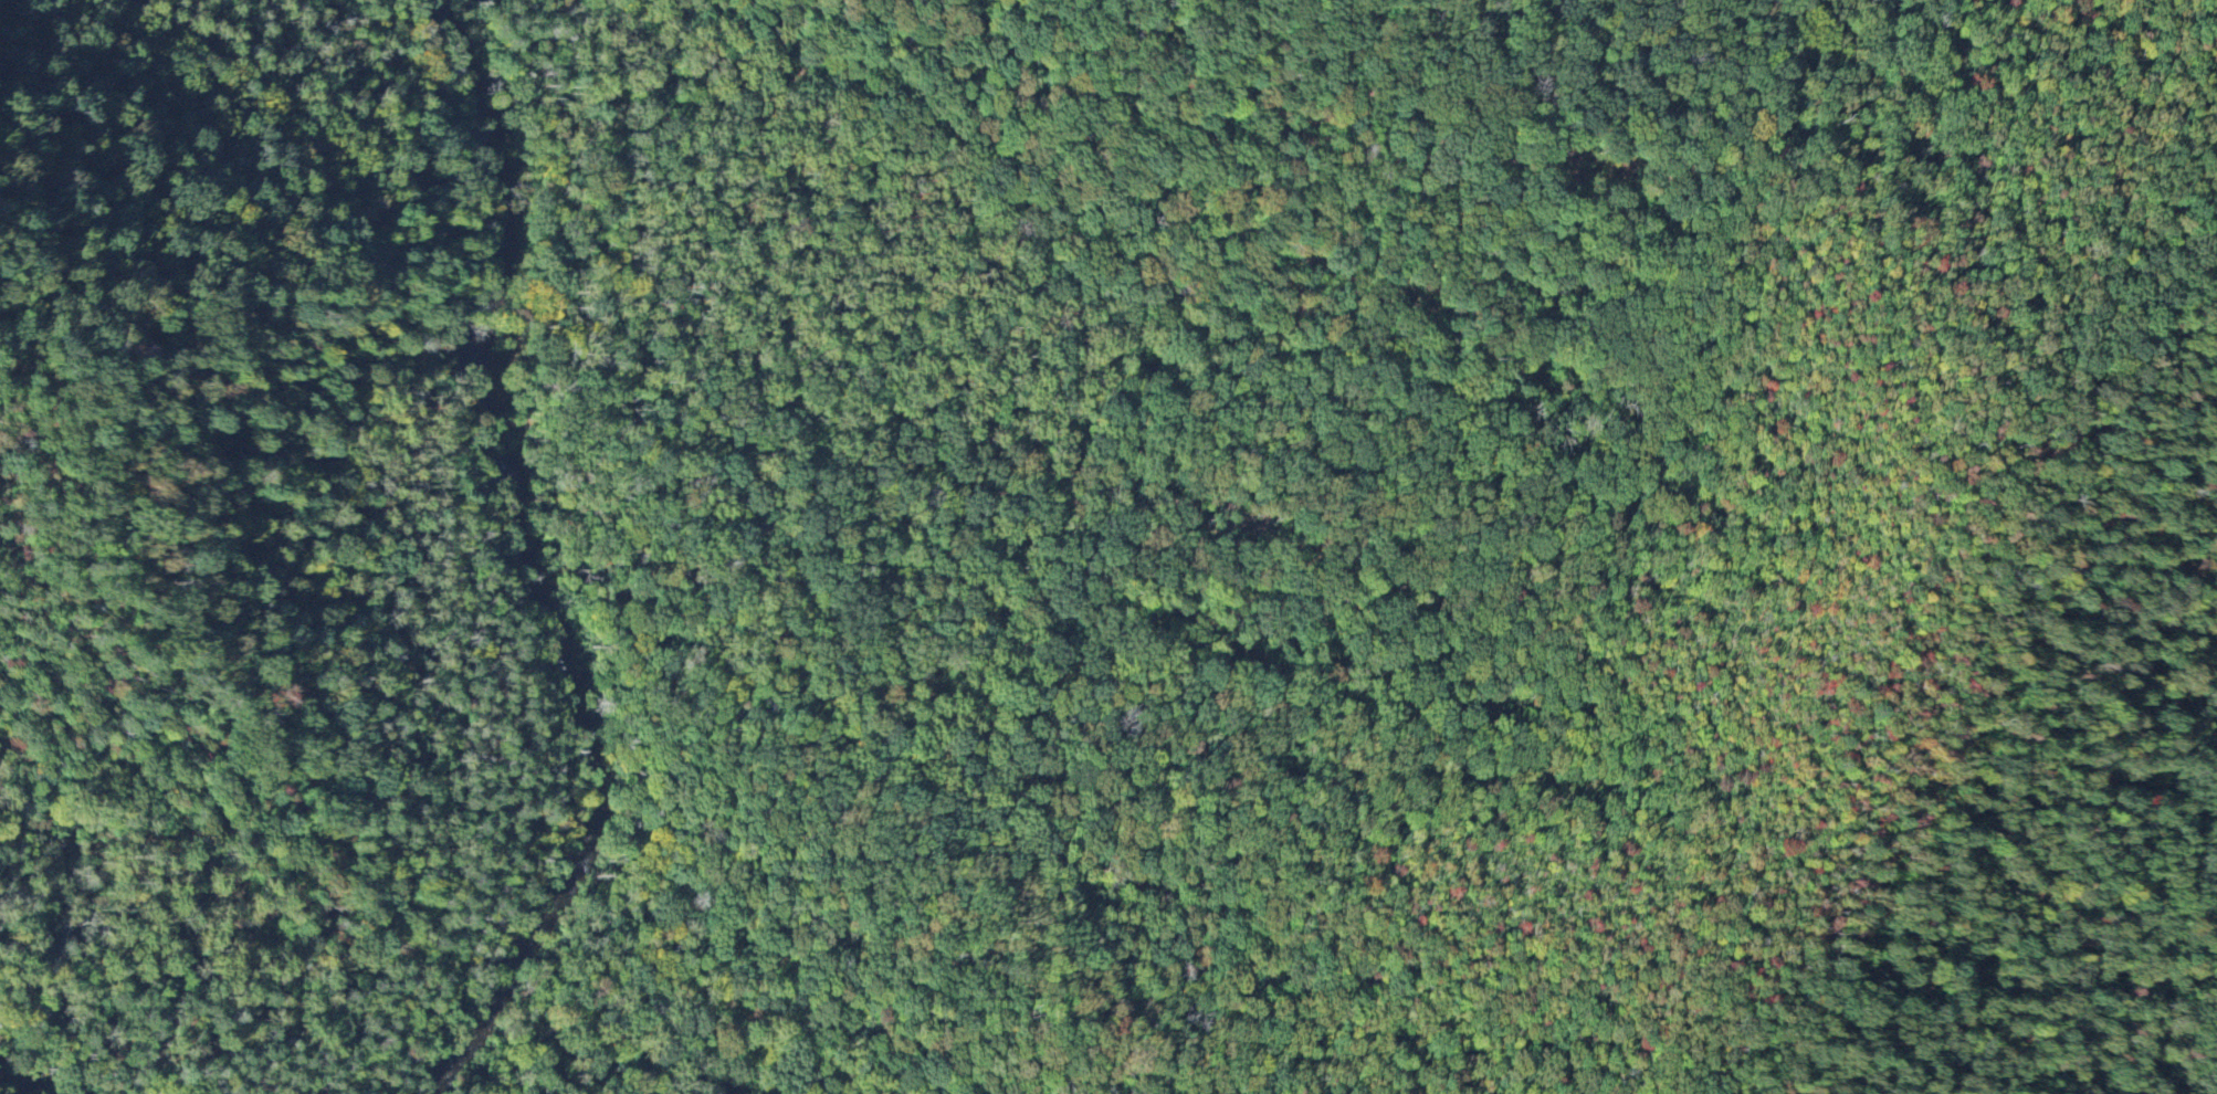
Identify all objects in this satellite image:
river: (525, 562)
river: (10, 1090)

